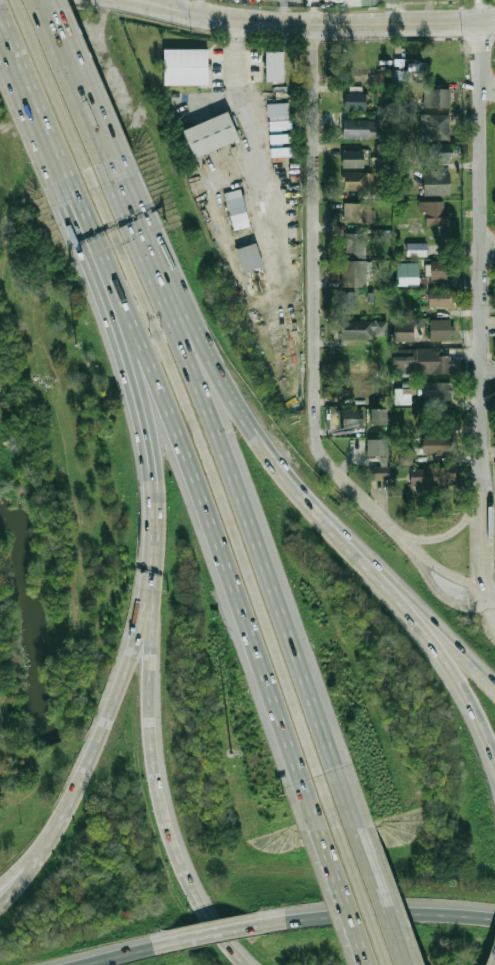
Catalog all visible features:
building: (418, 0)
building: (347, 2)
road: (178, 7)
road: (154, 8)
road: (201, 8)
road: (282, 12)
road: (348, 24)
road: (402, 39)
building: (184, 66)
building: (273, 66)
road: (486, 89)
road: (82, 94)
road: (56, 97)
building: (435, 97)
park: (180, 99)
building: (354, 100)
building: (278, 116)
road: (38, 119)
building: (434, 126)
building: (360, 128)
building: (208, 133)
road: (253, 138)
building: (280, 138)
building: (280, 151)
building: (436, 151)
building: (352, 158)
building: (357, 180)
building: (436, 181)
building: (236, 209)
building: (358, 211)
building: (434, 212)
road: (143, 236)
building: (354, 244)
road: (486, 244)
building: (415, 249)
building: (249, 257)
road: (100, 259)
road: (478, 262)
building: (438, 269)
building: (353, 272)
building: (406, 273)
building: (438, 297)
road: (313, 298)
building: (346, 300)
building: (362, 329)
building: (440, 329)
building: (402, 331)
building: (420, 359)
road: (487, 370)
building: (436, 390)
building: (378, 415)
building: (353, 419)
building: (435, 445)
building: (376, 446)
building: (406, 458)
road: (149, 462)
road: (281, 469)
building: (378, 472)
building: (430, 476)
road: (227, 507)
road: (448, 533)
road: (412, 549)
road: (484, 550)
road: (262, 555)
road: (223, 568)
road: (454, 578)
road: (445, 597)
road: (489, 597)
road: (489, 612)
river: (31, 621)
road: (455, 645)
road: (442, 653)
road: (487, 669)
road: (475, 716)
road: (92, 750)
road: (163, 803)
river: (94, 853)
road: (10, 882)
road: (10, 889)
road: (358, 896)
road: (379, 896)
road: (337, 897)
road: (381, 910)
road: (220, 931)
road: (127, 953)

